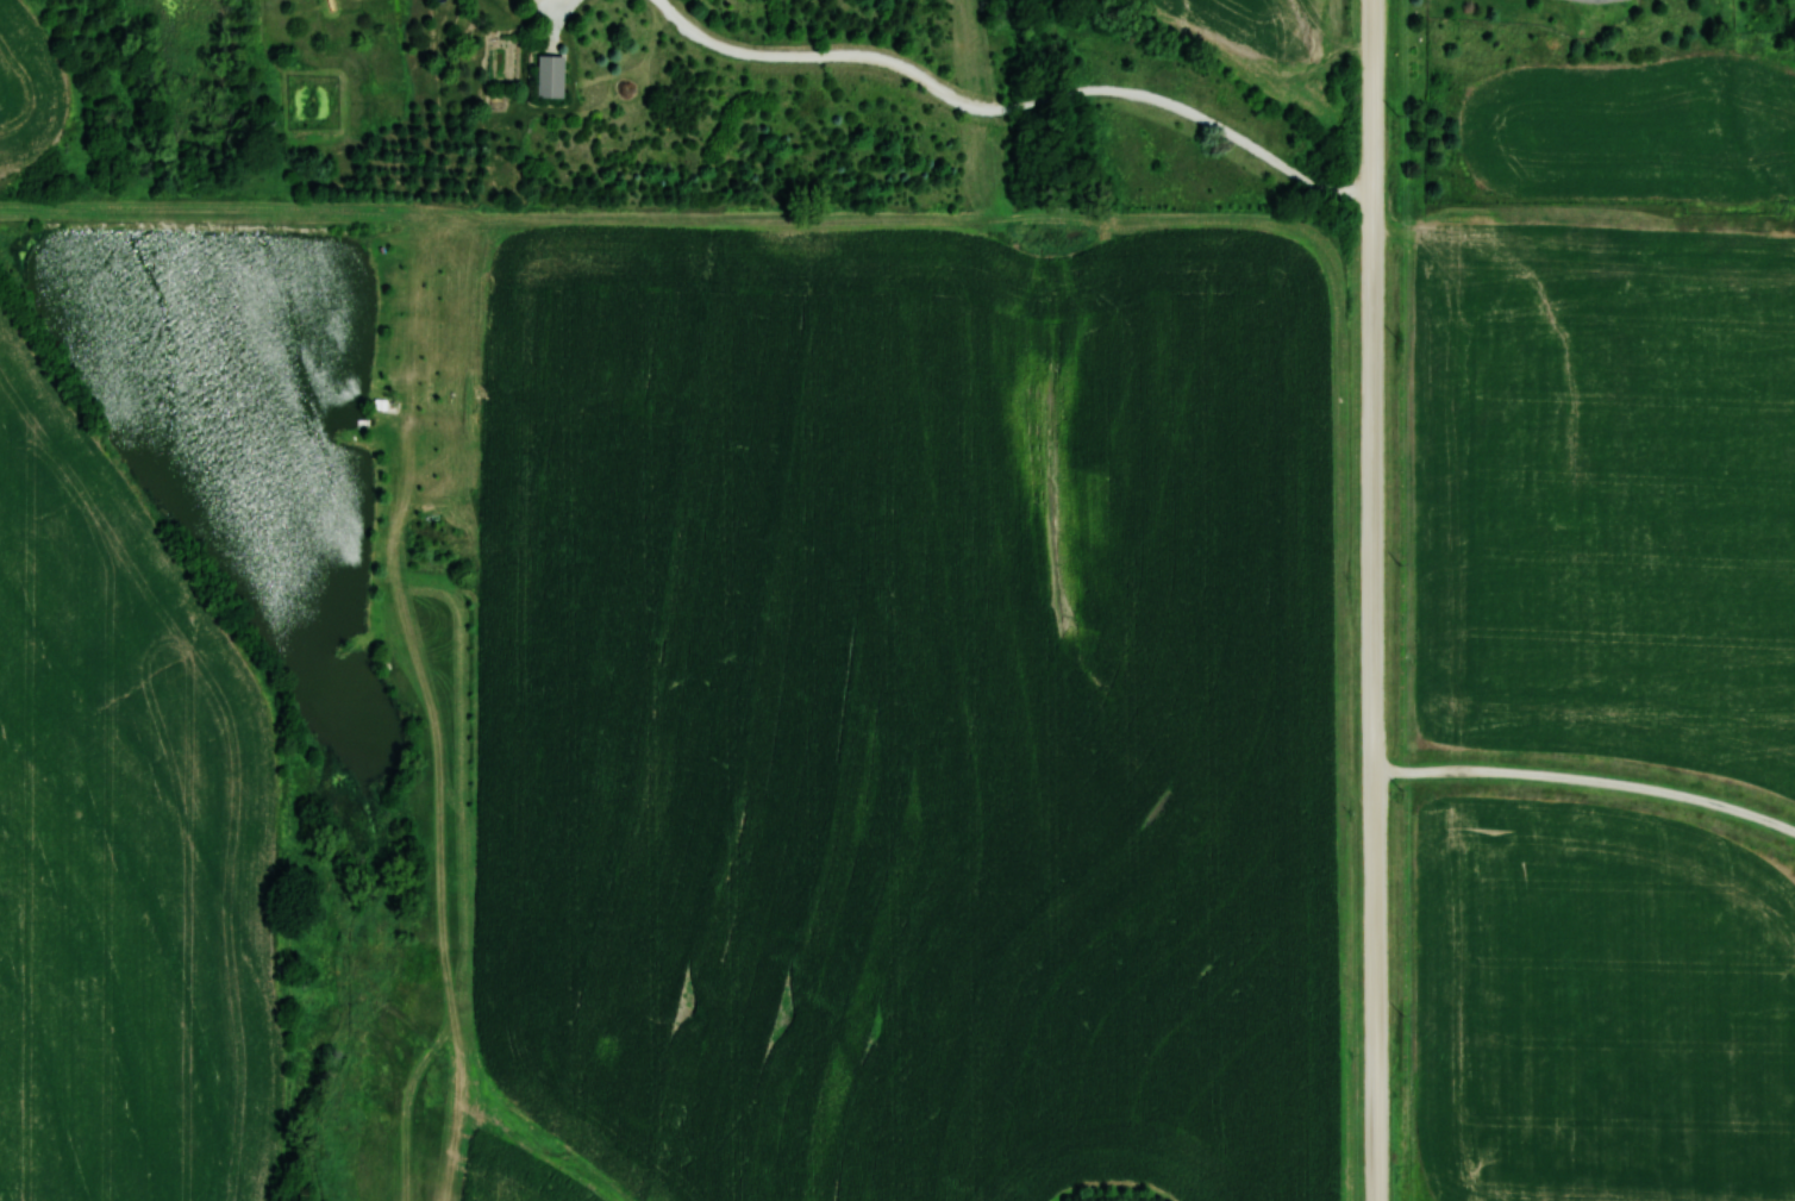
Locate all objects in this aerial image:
building: (548, 76)
road: (1017, 100)
dam: (209, 214)
road: (1375, 600)
road: (1589, 778)

